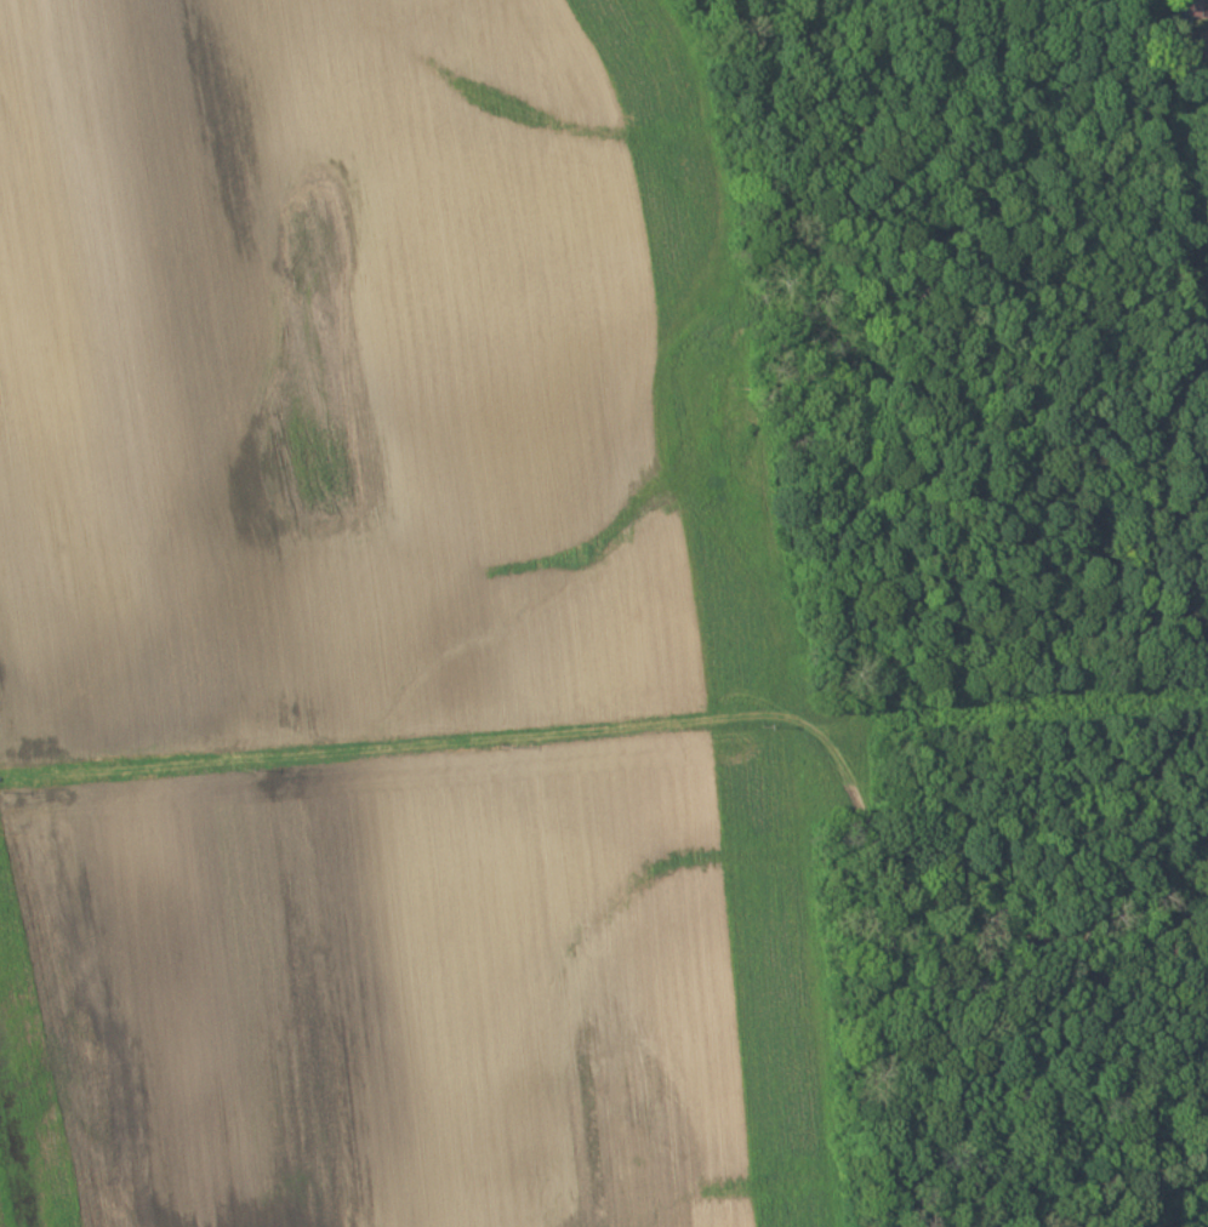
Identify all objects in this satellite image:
building: (1193, 45)

